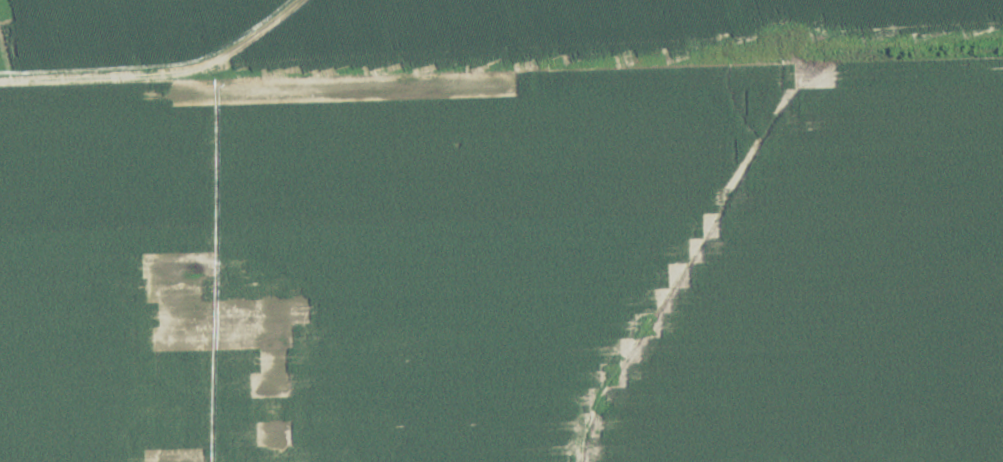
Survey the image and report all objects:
road: (164, 74)

